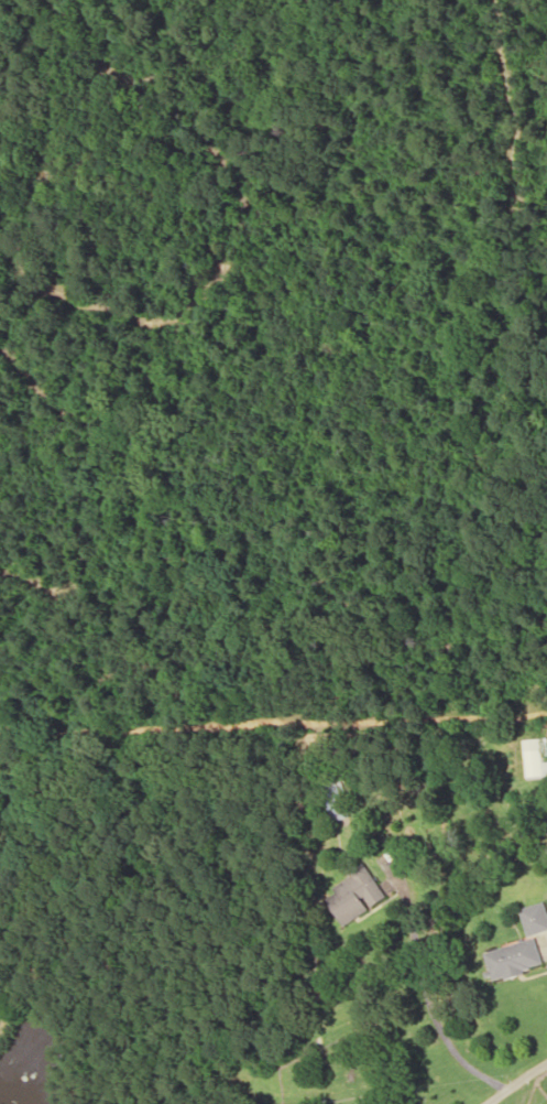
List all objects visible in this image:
building: (353, 895)
building: (534, 918)
building: (512, 957)
road: (518, 1084)

